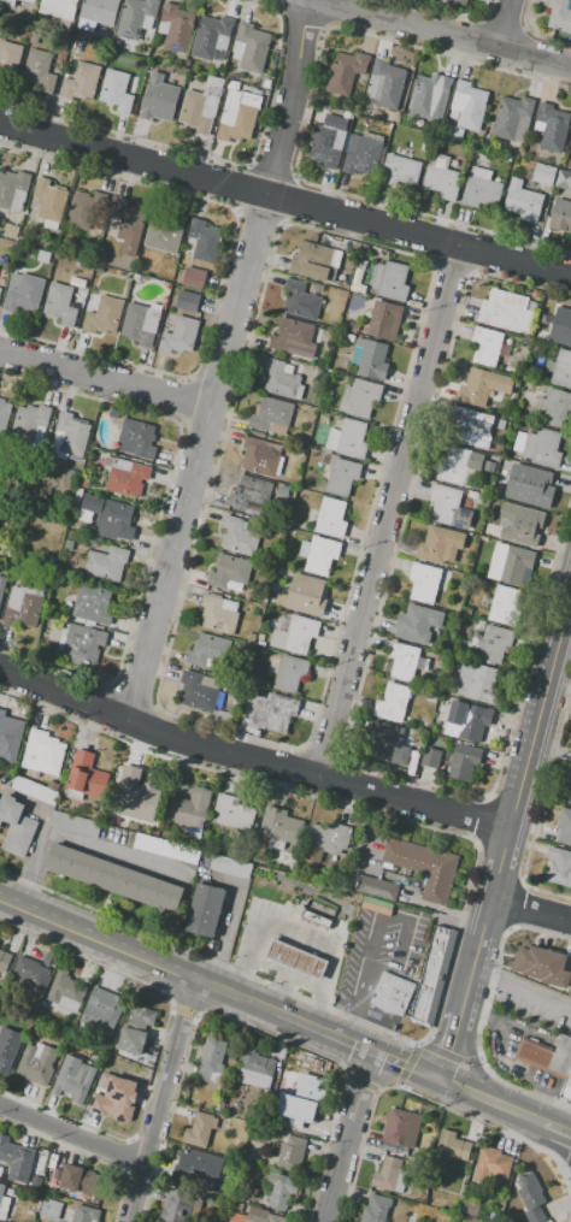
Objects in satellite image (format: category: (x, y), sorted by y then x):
building: (29, 1)
building: (8, 2)
building: (457, 2)
building: (59, 7)
building: (99, 11)
building: (559, 14)
building: (135, 17)
road: (508, 24)
building: (175, 28)
road: (446, 33)
building: (212, 36)
building: (251, 47)
building: (8, 60)
building: (37, 72)
building: (345, 72)
building: (80, 81)
building: (266, 83)
building: (385, 84)
building: (116, 90)
building: (429, 94)
building: (159, 99)
building: (201, 106)
building: (469, 106)
building: (237, 116)
building: (513, 118)
building: (552, 126)
building: (326, 141)
building: (363, 154)
building: (570, 157)
building: (399, 171)
building: (542, 173)
building: (498, 177)
building: (441, 178)
building: (563, 179)
building: (13, 189)
building: (481, 189)
road: (284, 199)
building: (48, 200)
building: (523, 202)
building: (82, 211)
building: (560, 216)
building: (129, 226)
building: (11, 231)
building: (164, 231)
building: (204, 240)
building: (330, 241)
building: (355, 247)
building: (314, 261)
building: (192, 277)
building: (392, 279)
building: (0, 290)
building: (23, 294)
building: (186, 300)
building: (300, 301)
building: (59, 305)
building: (507, 311)
building: (102, 315)
building: (384, 320)
building: (140, 324)
building: (353, 326)
building: (564, 326)
building: (178, 336)
building: (292, 338)
building: (485, 346)
road: (219, 360)
building: (372, 360)
building: (559, 370)
road: (104, 379)
building: (281, 380)
building: (517, 382)
building: (482, 386)
building: (359, 397)
building: (555, 409)
building: (270, 414)
building: (4, 418)
building: (31, 424)
building: (463, 426)
building: (71, 433)
building: (137, 439)
building: (348, 439)
building: (540, 448)
building: (259, 457)
building: (475, 460)
building: (488, 467)
building: (340, 476)
building: (126, 480)
building: (532, 484)
building: (320, 490)
building: (248, 491)
building: (448, 508)
road: (394, 514)
building: (328, 518)
building: (114, 520)
building: (295, 523)
building: (520, 525)
building: (237, 536)
building: (438, 544)
building: (318, 555)
building: (106, 563)
building: (511, 565)
building: (229, 572)
building: (423, 583)
building: (2, 586)
building: (306, 595)
building: (93, 603)
building: (501, 604)
building: (24, 606)
building: (219, 614)
building: (417, 624)
building: (479, 625)
building: (299, 633)
building: (82, 643)
building: (494, 644)
building: (208, 651)
building: (405, 662)
building: (289, 673)
building: (477, 681)
building: (198, 691)
building: (392, 702)
building: (272, 712)
building: (466, 721)
building: (8, 737)
building: (387, 743)
building: (42, 752)
building: (430, 757)
road: (249, 760)
building: (463, 761)
building: (413, 762)
building: (84, 777)
building: (566, 792)
building: (134, 793)
road: (514, 801)
building: (189, 807)
building: (234, 813)
building: (73, 823)
building: (16, 826)
building: (279, 826)
building: (564, 826)
road: (37, 837)
building: (325, 839)
building: (165, 848)
road: (112, 851)
building: (229, 866)
building: (424, 866)
building: (558, 867)
building: (113, 878)
building: (376, 887)
building: (205, 909)
road: (530, 910)
building: (318, 914)
road: (300, 935)
building: (4, 960)
building: (295, 960)
gas station: (295, 960)
building: (542, 966)
building: (31, 974)
road: (282, 974)
building: (434, 974)
road: (360, 976)
road: (218, 988)
road: (520, 990)
building: (65, 991)
road: (278, 993)
building: (392, 993)
building: (104, 1003)
building: (135, 1029)
road: (451, 1044)
building: (8, 1047)
building: (279, 1053)
road: (470, 1056)
building: (210, 1059)
building: (552, 1061)
building: (35, 1064)
building: (255, 1069)
traffic signals: (436, 1079)
building: (72, 1082)
road: (475, 1094)
building: (122, 1099)
road: (159, 1100)
building: (301, 1103)
building: (219, 1104)
road: (542, 1122)
building: (401, 1127)
building: (199, 1129)
road: (71, 1134)
road: (347, 1137)
road: (546, 1145)
building: (452, 1146)
building: (290, 1153)
building: (16, 1159)
building: (493, 1162)
building: (198, 1169)
building: (0, 1170)
building: (385, 1174)
building: (82, 1180)
building: (279, 1189)
building: (529, 1191)
building: (5, 1202)
building: (175, 1205)
building: (375, 1209)
building: (49, 1210)
building: (465, 1210)
building: (84, 1214)
building: (261, 1216)
building: (235, 1217)

